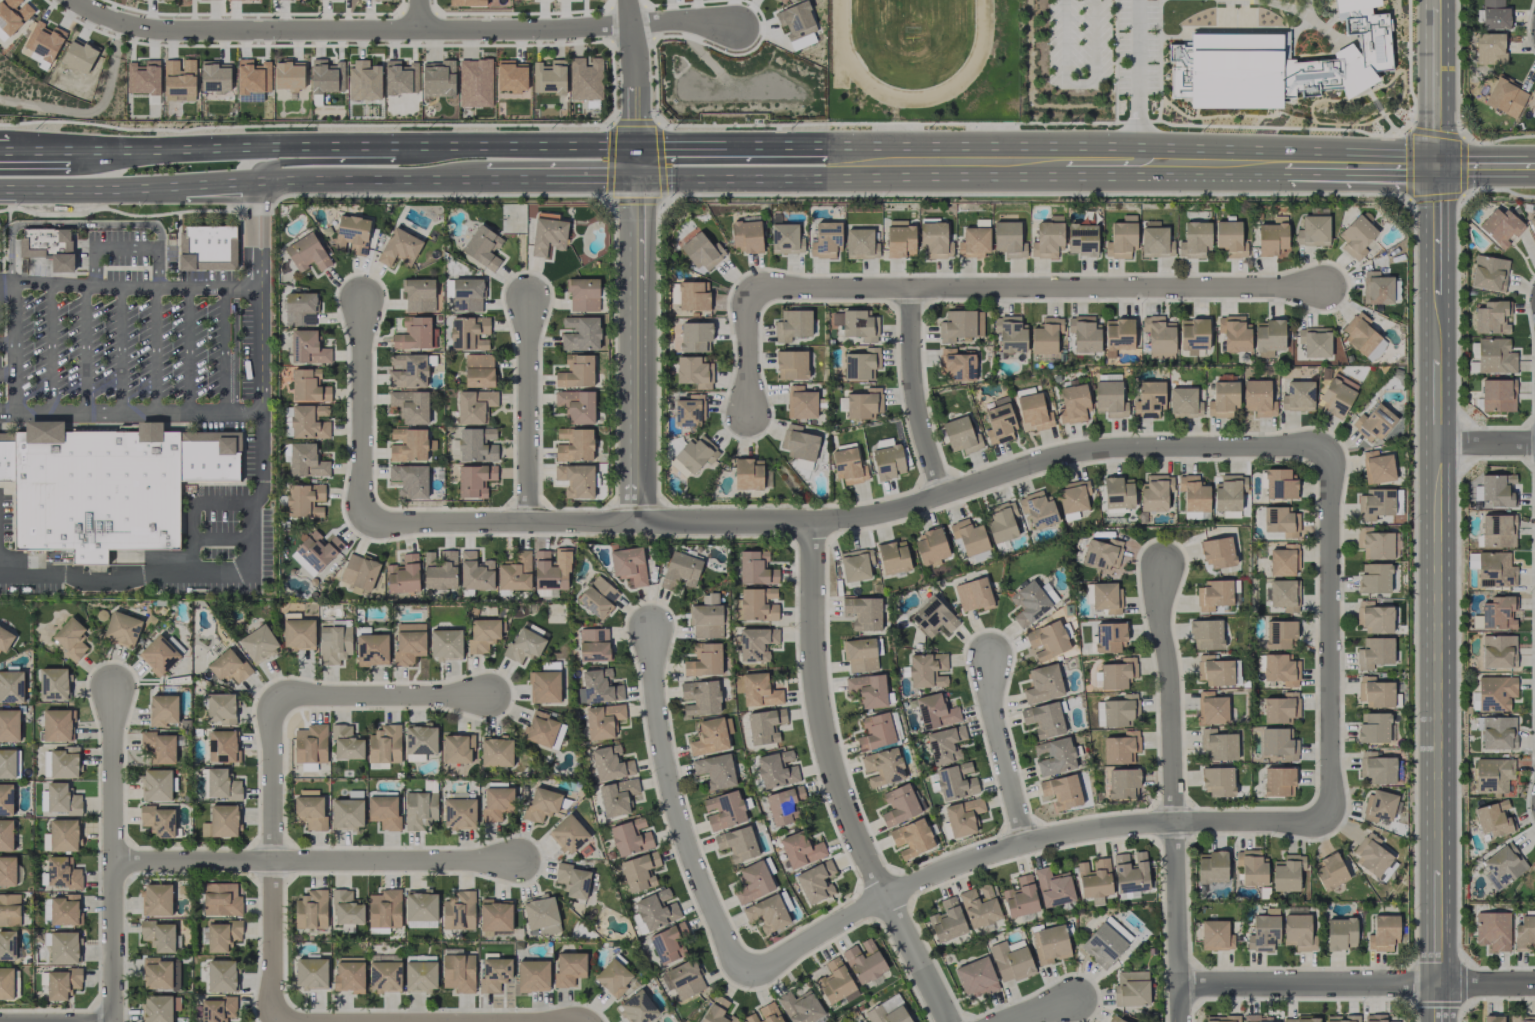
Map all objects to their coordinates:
building: (240, 0)
building: (782, 1)
building: (468, 2)
building: (13, 14)
road: (416, 14)
building: (1494, 14)
road: (678, 21)
building: (797, 24)
road: (348, 28)
building: (2, 35)
building: (44, 40)
building: (1490, 48)
building: (79, 56)
building: (1278, 63)
road: (1137, 73)
building: (289, 75)
building: (325, 75)
building: (215, 76)
building: (511, 76)
building: (144, 77)
building: (253, 77)
building: (400, 77)
building: (549, 77)
building: (438, 79)
building: (586, 79)
building: (179, 80)
building: (364, 80)
building: (475, 83)
road: (1079, 83)
road: (1436, 85)
road: (628, 88)
building: (1506, 97)
building: (1533, 112)
road: (521, 146)
road: (728, 146)
road: (1132, 146)
road: (244, 148)
road: (38, 151)
road: (330, 156)
road: (1076, 165)
traffic signals: (1437, 170)
road: (1486, 170)
road: (558, 178)
road: (372, 180)
road: (847, 180)
road: (1329, 180)
road: (1143, 181)
road: (221, 183)
road: (92, 187)
building: (1532, 223)
building: (1500, 226)
building: (1313, 231)
building: (352, 235)
building: (747, 235)
building: (548, 236)
building: (1273, 236)
building: (1357, 237)
building: (786, 238)
building: (900, 238)
building: (1122, 238)
building: (1231, 238)
building: (1009, 239)
building: (1082, 239)
building: (826, 240)
building: (935, 240)
building: (1047, 240)
building: (1195, 240)
building: (974, 242)
building: (1157, 242)
building: (861, 244)
building: (47, 246)
road: (140, 247)
building: (208, 247)
building: (399, 247)
building: (483, 247)
building: (702, 251)
building: (307, 252)
building: (1489, 273)
building: (1377, 288)
road: (972, 289)
building: (469, 292)
building: (419, 295)
building: (584, 295)
building: (693, 296)
building: (459, 304)
road: (1437, 307)
building: (300, 309)
road: (17, 311)
road: (157, 318)
building: (1491, 318)
building: (856, 324)
building: (793, 325)
building: (961, 325)
building: (413, 333)
building: (469, 333)
building: (581, 333)
building: (1234, 333)
building: (1360, 333)
building: (1084, 334)
building: (1012, 335)
building: (1118, 335)
building: (695, 336)
building: (1270, 336)
building: (1159, 337)
building: (1193, 337)
building: (1046, 339)
building: (1315, 342)
road: (50, 347)
road: (85, 347)
road: (119, 348)
building: (307, 348)
road: (188, 349)
road: (634, 351)
building: (1495, 356)
building: (861, 364)
building: (792, 365)
building: (956, 365)
road: (223, 366)
building: (479, 370)
building: (408, 371)
building: (576, 371)
building: (694, 372)
road: (8, 373)
road: (17, 377)
building: (309, 386)
road: (915, 394)
building: (1337, 395)
building: (1498, 395)
building: (1298, 396)
building: (1258, 398)
building: (1110, 399)
building: (1149, 399)
building: (1223, 399)
building: (801, 402)
building: (1184, 402)
building: (864, 403)
building: (1073, 404)
building: (474, 405)
building: (577, 405)
building: (410, 406)
building: (690, 411)
road: (112, 412)
road: (260, 413)
building: (1033, 413)
road: (362, 414)
road: (528, 415)
building: (309, 422)
building: (1000, 422)
building: (1374, 422)
building: (961, 435)
building: (799, 443)
building: (477, 444)
building: (575, 444)
building: (408, 445)
road: (1486, 445)
building: (696, 453)
building: (888, 458)
building: (306, 461)
building: (849, 466)
building: (1377, 467)
building: (748, 474)
building: (410, 480)
building: (474, 480)
building: (576, 480)
building: (1279, 484)
building: (109, 486)
building: (1495, 490)
building: (1118, 492)
building: (1155, 492)
building: (1193, 493)
building: (1228, 493)
building: (1073, 498)
building: (305, 500)
building: (1375, 504)
building: (1037, 510)
road: (194, 515)
road: (850, 519)
building: (1002, 521)
building: (1280, 523)
building: (1498, 530)
road: (222, 538)
building: (968, 538)
building: (1374, 543)
building: (931, 545)
building: (316, 552)
building: (1217, 552)
building: (1102, 553)
building: (893, 557)
building: (1284, 560)
building: (629, 565)
building: (856, 565)
building: (756, 568)
building: (552, 569)
building: (680, 569)
building: (1495, 569)
building: (440, 570)
building: (476, 571)
building: (359, 573)
building: (515, 573)
building: (403, 575)
building: (1375, 578)
road: (88, 580)
building: (973, 594)
building: (1214, 594)
building: (1284, 594)
building: (598, 597)
building: (1106, 597)
building: (1029, 603)
building: (758, 604)
building: (863, 612)
building: (1498, 613)
building: (933, 617)
building: (1374, 617)
building: (706, 621)
building: (122, 628)
building: (483, 634)
building: (1206, 634)
building: (1279, 634)
road: (1329, 635)
building: (1110, 637)
building: (71, 638)
building: (5, 640)
building: (1048, 641)
building: (525, 642)
building: (258, 643)
building: (409, 643)
building: (756, 643)
building: (334, 644)
building: (446, 644)
building: (594, 644)
building: (372, 649)
building: (1498, 651)
building: (1375, 652)
building: (860, 654)
building: (158, 655)
building: (704, 660)
building: (229, 666)
building: (1281, 669)
building: (927, 670)
building: (1214, 671)
building: (1118, 673)
building: (54, 684)
building: (1043, 684)
building: (11, 686)
building: (544, 686)
building: (600, 686)
building: (759, 690)
building: (868, 690)
building: (1375, 692)
building: (1495, 693)
road: (296, 696)
building: (701, 697)
building: (221, 708)
building: (1212, 708)
building: (1281, 708)
building: (163, 710)
building: (1120, 710)
building: (935, 712)
building: (1044, 719)
building: (603, 720)
building: (9, 725)
building: (57, 725)
building: (765, 726)
building: (1374, 727)
building: (540, 729)
building: (876, 732)
road: (1438, 733)
building: (1498, 733)
building: (709, 737)
building: (420, 742)
building: (347, 743)
building: (311, 744)
building: (945, 744)
building: (1218, 745)
building: (1278, 745)
building: (222, 746)
building: (384, 746)
building: (159, 747)
building: (1120, 747)
building: (457, 748)
building: (496, 751)
road: (1002, 753)
building: (1055, 756)
building: (62, 762)
building: (7, 763)
building: (610, 763)
building: (883, 767)
building: (1377, 768)
building: (777, 769)
building: (715, 771)
building: (1493, 775)
building: (1218, 781)
building: (1278, 781)
building: (956, 782)
building: (1122, 782)
road: (836, 783)
building: (157, 785)
building: (222, 785)
building: (1062, 791)
road: (1173, 795)
building: (617, 797)
building: (6, 799)
building: (62, 799)
building: (497, 803)
building: (783, 804)
building: (541, 805)
building: (899, 805)
building: (1379, 806)
building: (420, 809)
road: (675, 809)
building: (724, 810)
building: (348, 811)
building: (311, 812)
building: (384, 812)
building: (460, 813)
building: (963, 816)
building: (1492, 818)
building: (158, 821)
building: (221, 821)
building: (568, 834)
building: (6, 835)
building: (64, 835)
building: (631, 837)
building: (912, 838)
building: (737, 843)
road: (1023, 845)
building: (801, 849)
road: (112, 854)
building: (1371, 855)
road: (313, 861)
building: (1503, 866)
building: (1212, 867)
building: (1252, 868)
building: (640, 871)
building: (1131, 871)
building: (1330, 871)
building: (7, 872)
building: (1287, 872)
building: (63, 873)
building: (1095, 878)
building: (573, 880)
building: (816, 881)
building: (753, 882)
building: (1053, 887)
building: (1021, 897)
building: (157, 900)
building: (222, 900)
building: (980, 905)
building: (421, 906)
building: (9, 909)
building: (385, 909)
building: (657, 909)
building: (64, 910)
building: (311, 910)
building: (346, 910)
building: (459, 911)
building: (767, 913)
building: (541, 914)
building: (495, 915)
building: (948, 921)
building: (1493, 930)
building: (1298, 932)
building: (1524, 932)
building: (1264, 933)
building: (1341, 933)
building: (1383, 933)
building: (223, 934)
building: (159, 935)
building: (1216, 935)
road: (272, 941)
building: (1106, 942)
building: (669, 943)
building: (1050, 944)
building: (7, 946)
building: (64, 947)
building: (1011, 960)
building: (864, 961)
building: (569, 968)
building: (459, 972)
building: (157, 973)
building: (311, 973)
building: (494, 973)
building: (349, 975)
building: (533, 975)
building: (221, 976)
building: (385, 976)
building: (421, 976)
building: (613, 977)
building: (976, 977)
building: (685, 979)
building: (835, 981)
building: (6, 983)
building: (62, 983)
road: (1310, 985)
road: (1486, 985)
building: (1131, 989)
building: (801, 1007)
building: (157, 1008)
building: (638, 1008)
building: (218, 1009)
road: (1040, 1010)
building: (717, 1011)
building: (888, 1011)
building: (766, 1014)
building: (1220, 1018)
building: (1257, 1018)
building: (1342, 1018)
building: (1375, 1018)
building: (1492, 1018)
building: (1115, 1019)
building: (1301, 1020)
building: (1522, 1020)
road: (508, 1021)

